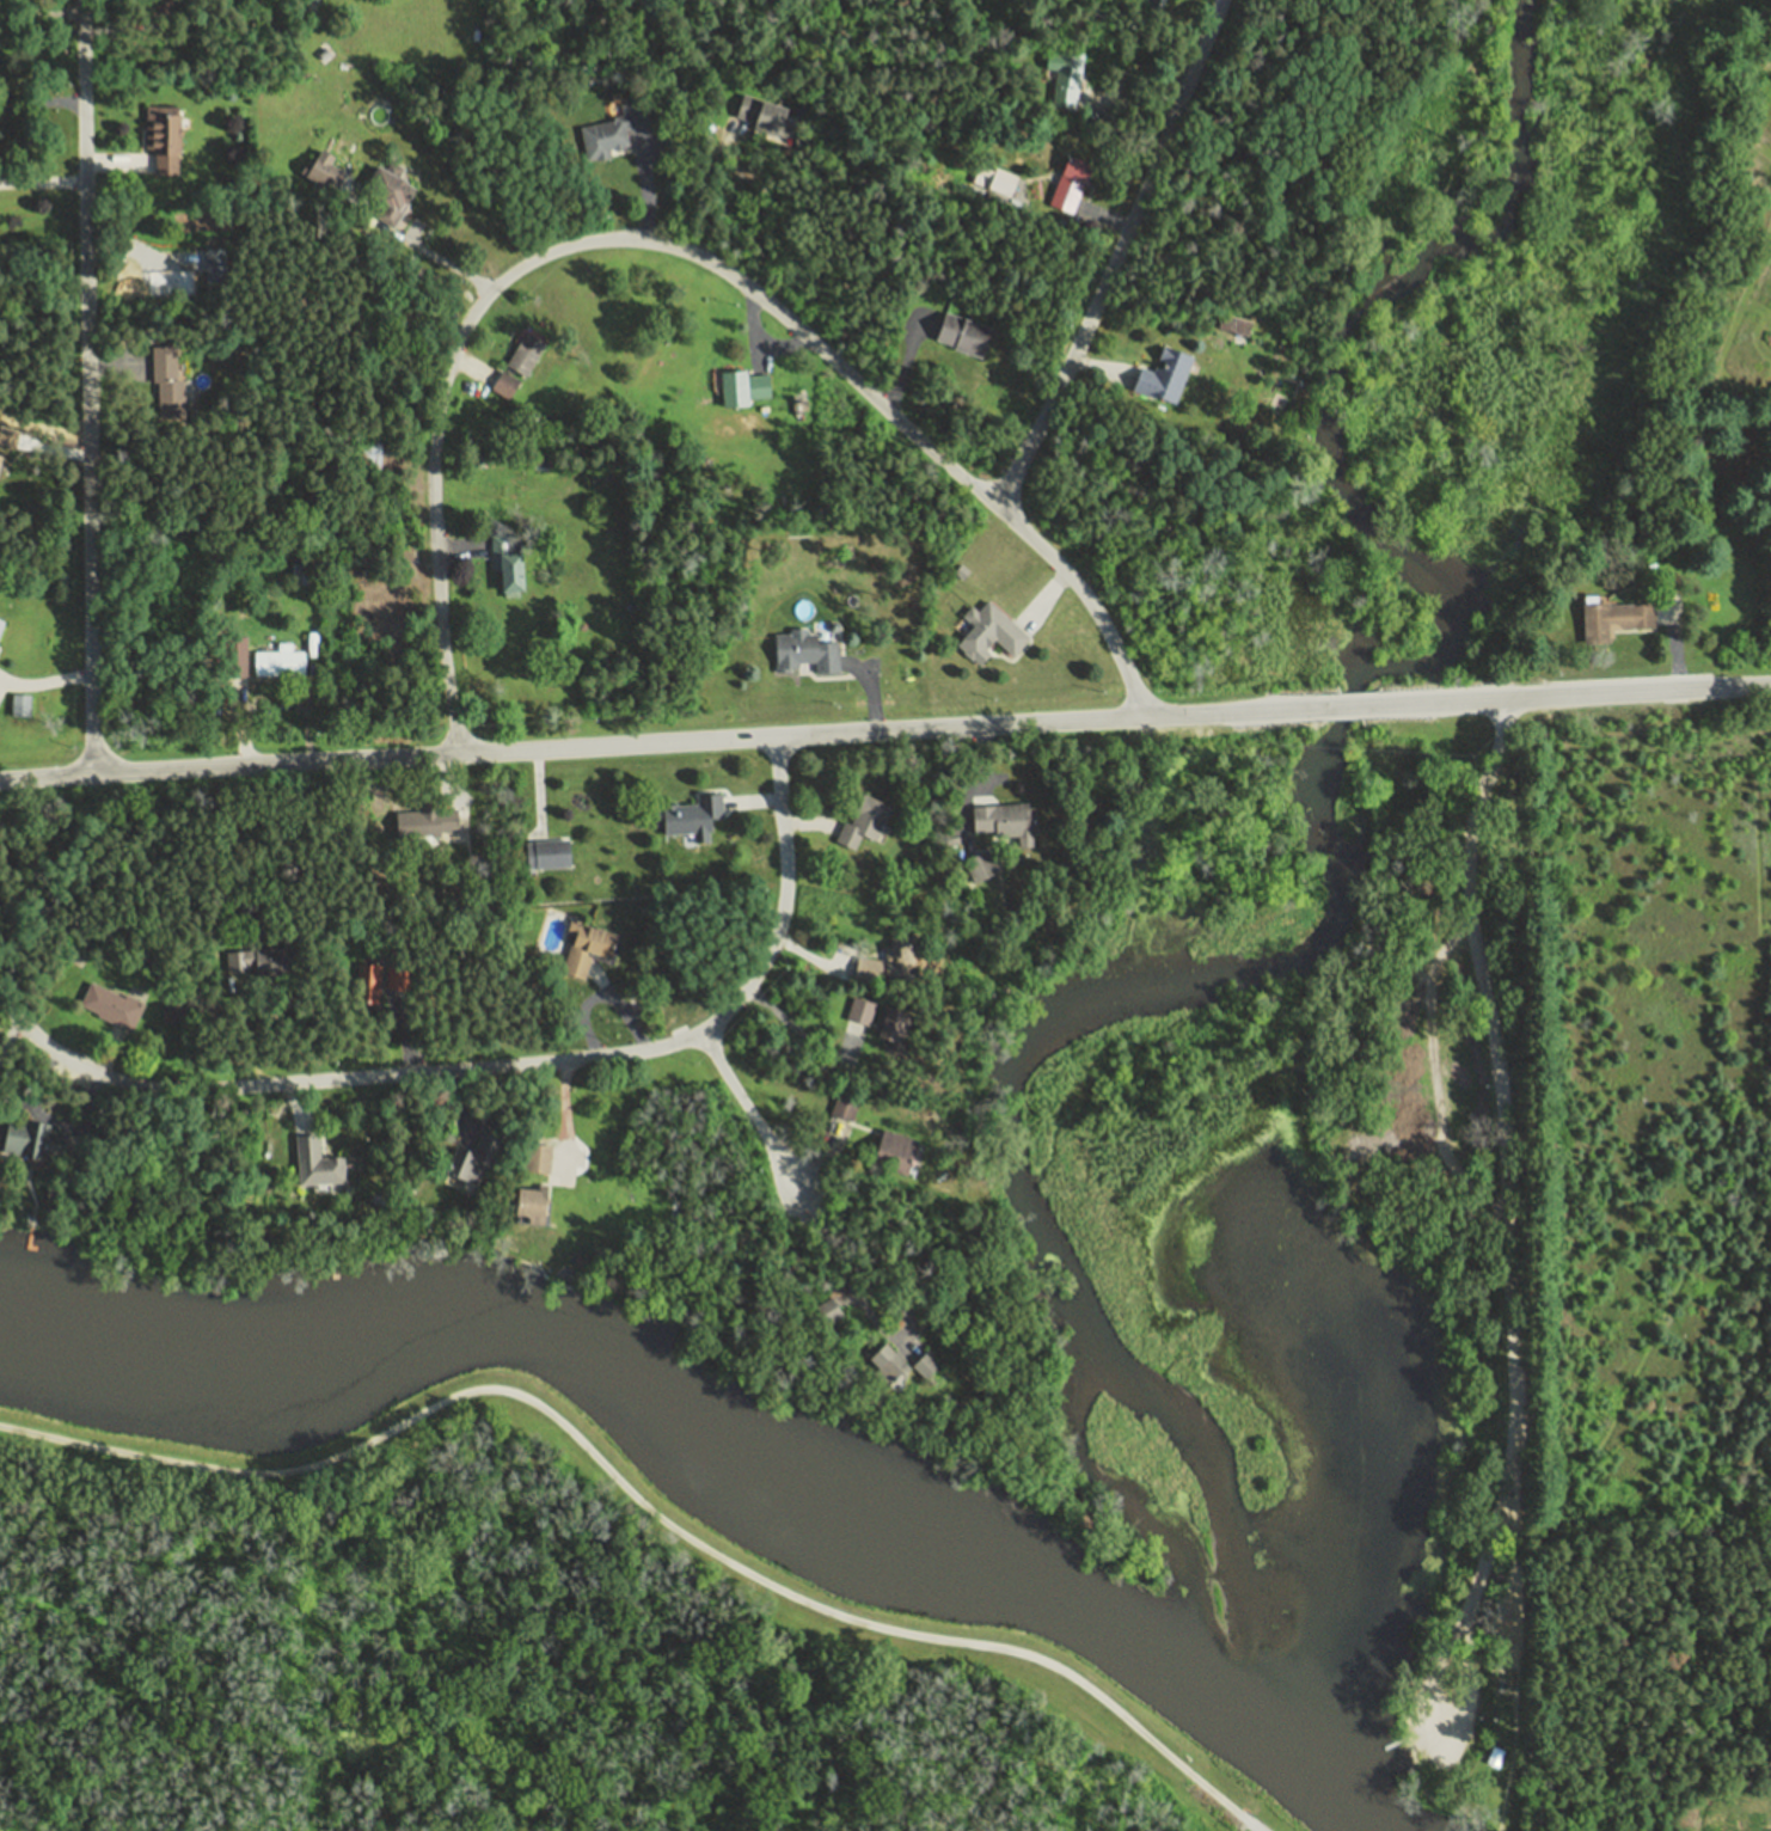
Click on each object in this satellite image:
building: (143, 5)
road: (41, 10)
road: (114, 31)
building: (1066, 76)
road: (41, 99)
road: (1132, 105)
building: (758, 112)
building: (609, 131)
building: (159, 137)
road: (115, 161)
building: (321, 176)
building: (988, 179)
road: (42, 182)
building: (1067, 183)
road: (646, 184)
building: (385, 190)
road: (704, 190)
road: (1065, 216)
road: (674, 246)
road: (411, 251)
road: (1116, 255)
building: (1231, 319)
road: (750, 329)
building: (960, 335)
road: (911, 343)
road: (780, 347)
building: (522, 354)
road: (114, 357)
building: (159, 359)
road: (470, 365)
road: (1097, 368)
building: (1162, 376)
building: (502, 384)
road: (86, 385)
building: (740, 387)
building: (167, 402)
building: (364, 455)
road: (459, 546)
building: (503, 563)
road: (1044, 599)
building: (1612, 619)
building: (0, 620)
building: (986, 633)
building: (804, 653)
building: (232, 662)
building: (277, 663)
road: (44, 682)
road: (870, 691)
road: (1570, 696)
building: (17, 705)
road: (1348, 705)
road: (243, 722)
road: (662, 742)
road: (981, 763)
road: (448, 780)
road: (539, 795)
road: (753, 802)
building: (688, 814)
building: (863, 821)
building: (1001, 821)
building: (425, 822)
road: (808, 823)
building: (948, 834)
building: (545, 855)
building: (979, 865)
building: (584, 947)
road: (809, 956)
building: (270, 961)
building: (903, 965)
building: (866, 968)
building: (375, 978)
building: (108, 1006)
building: (214, 1008)
building: (171, 1009)
road: (621, 1010)
building: (857, 1012)
building: (189, 1014)
road: (583, 1017)
road: (250, 1028)
building: (894, 1029)
road: (10, 1031)
road: (399, 1031)
road: (799, 1031)
road: (108, 1055)
road: (494, 1066)
road: (449, 1103)
road: (1391, 1104)
road: (295, 1107)
building: (842, 1107)
road: (752, 1112)
road: (564, 1121)
building: (30, 1143)
building: (890, 1152)
building: (537, 1157)
road: (820, 1158)
building: (472, 1159)
building: (312, 1164)
building: (526, 1206)
park: (1476, 1212)
road: (847, 1280)
road: (1513, 1291)
building: (827, 1310)
building: (923, 1364)
building: (884, 1366)
road: (649, 1500)
road: (1478, 1641)
road: (1422, 1753)

